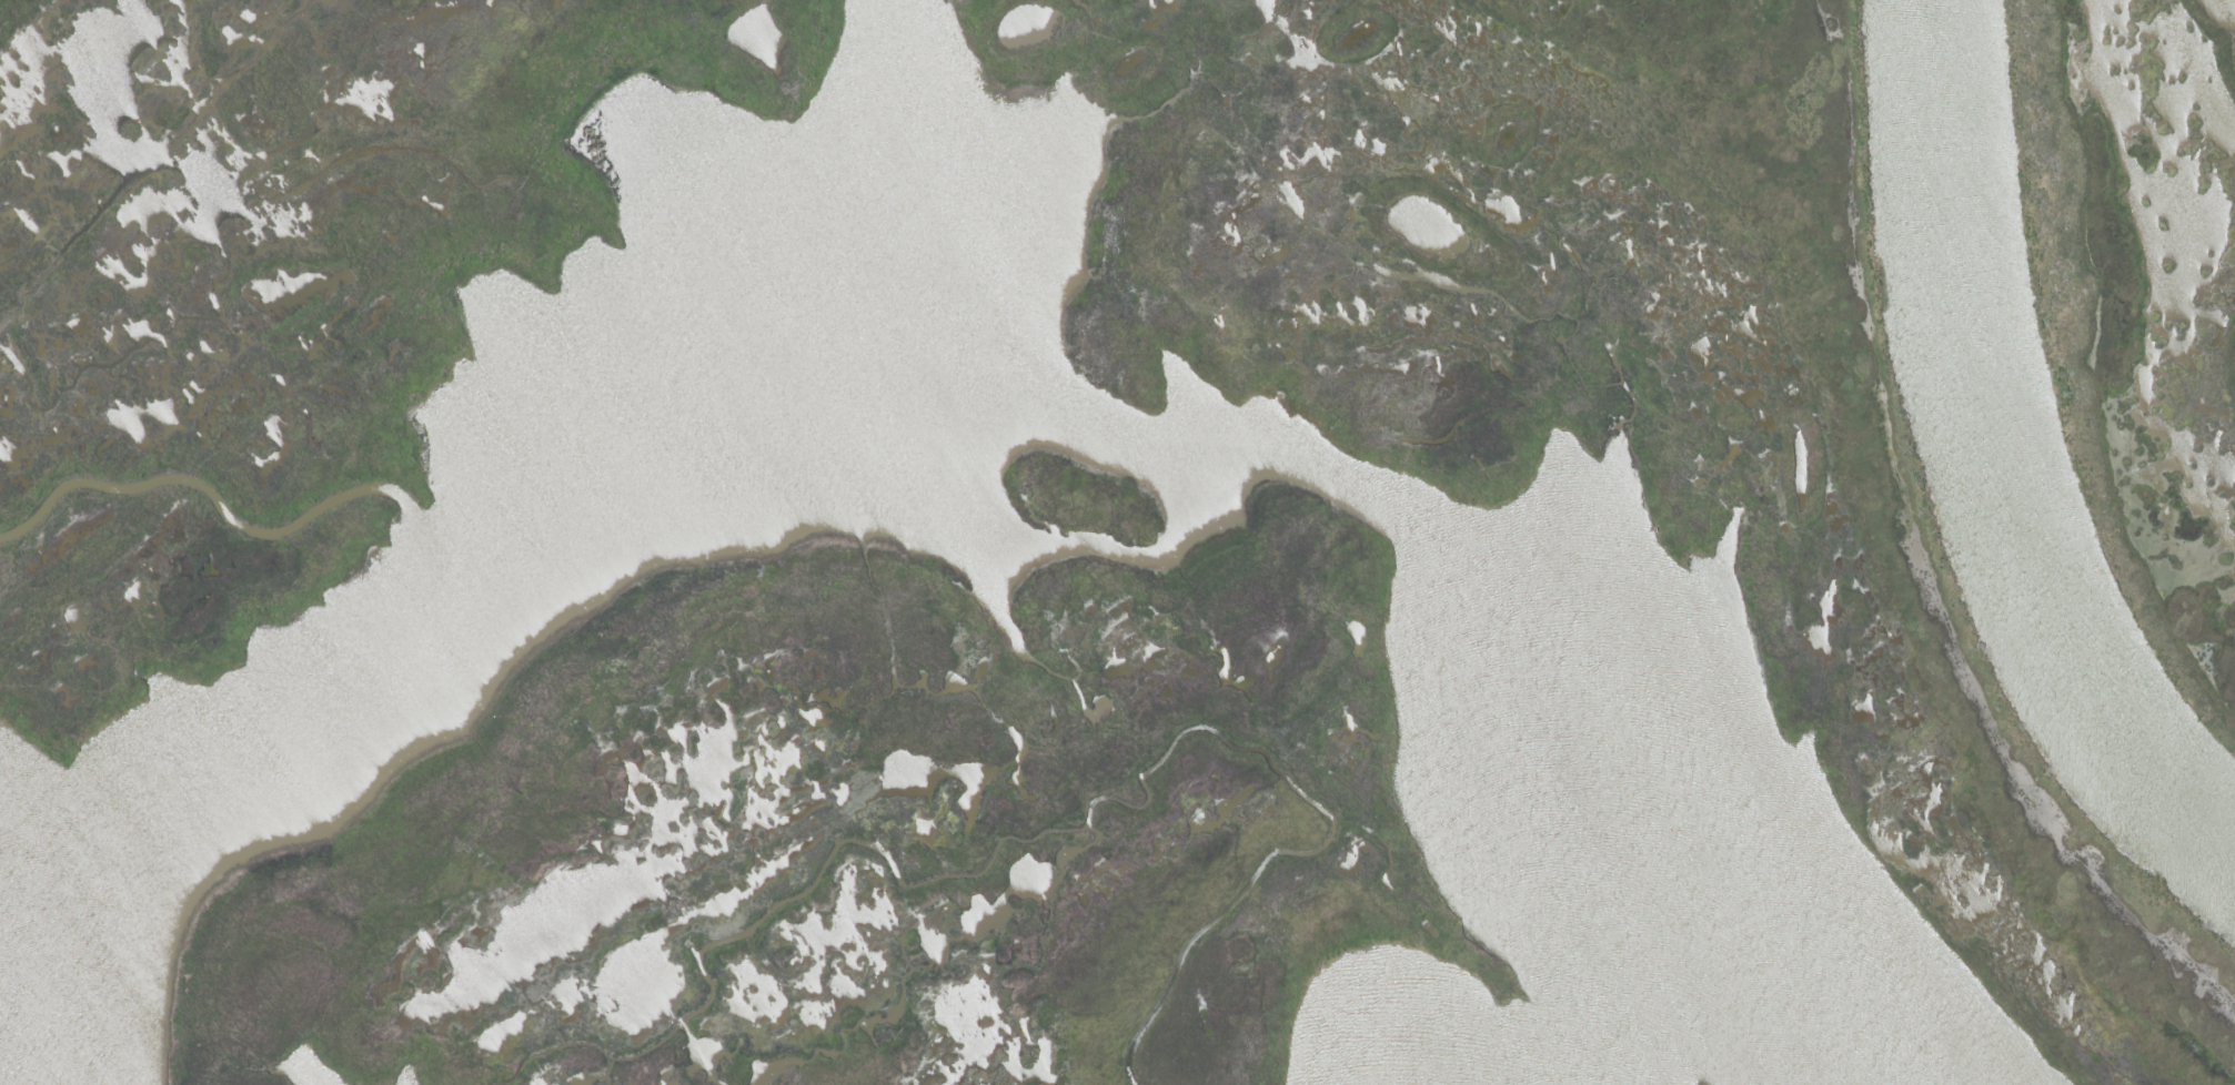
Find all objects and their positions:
river: (2005, 479)

